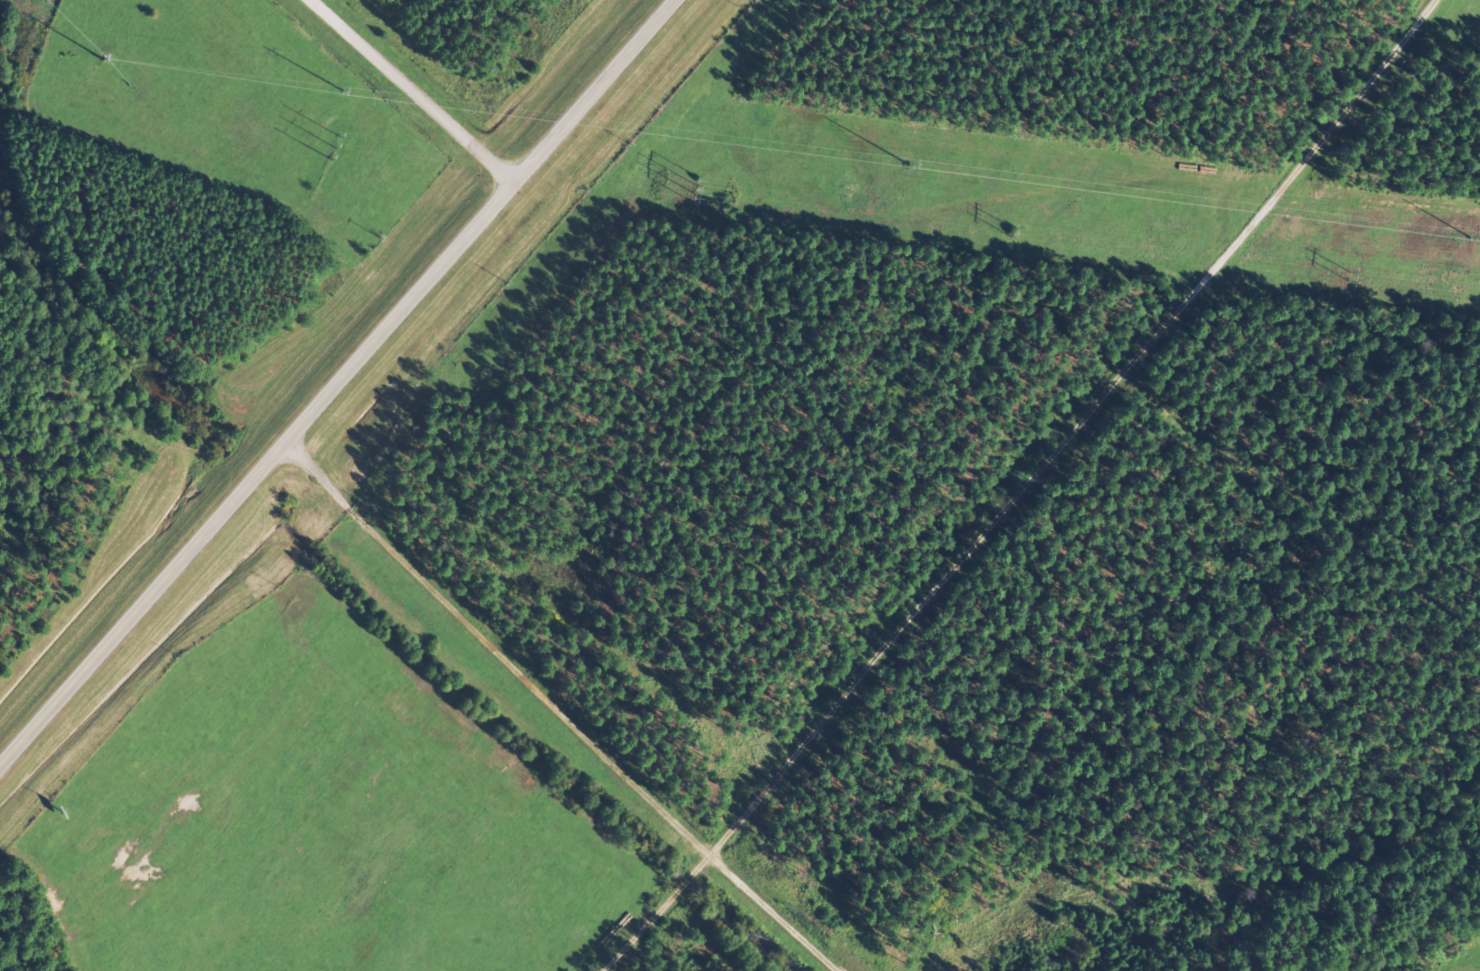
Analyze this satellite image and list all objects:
power tower: (112, 58)
power tower: (340, 89)
road: (411, 90)
power tower: (935, 161)
road: (336, 382)

